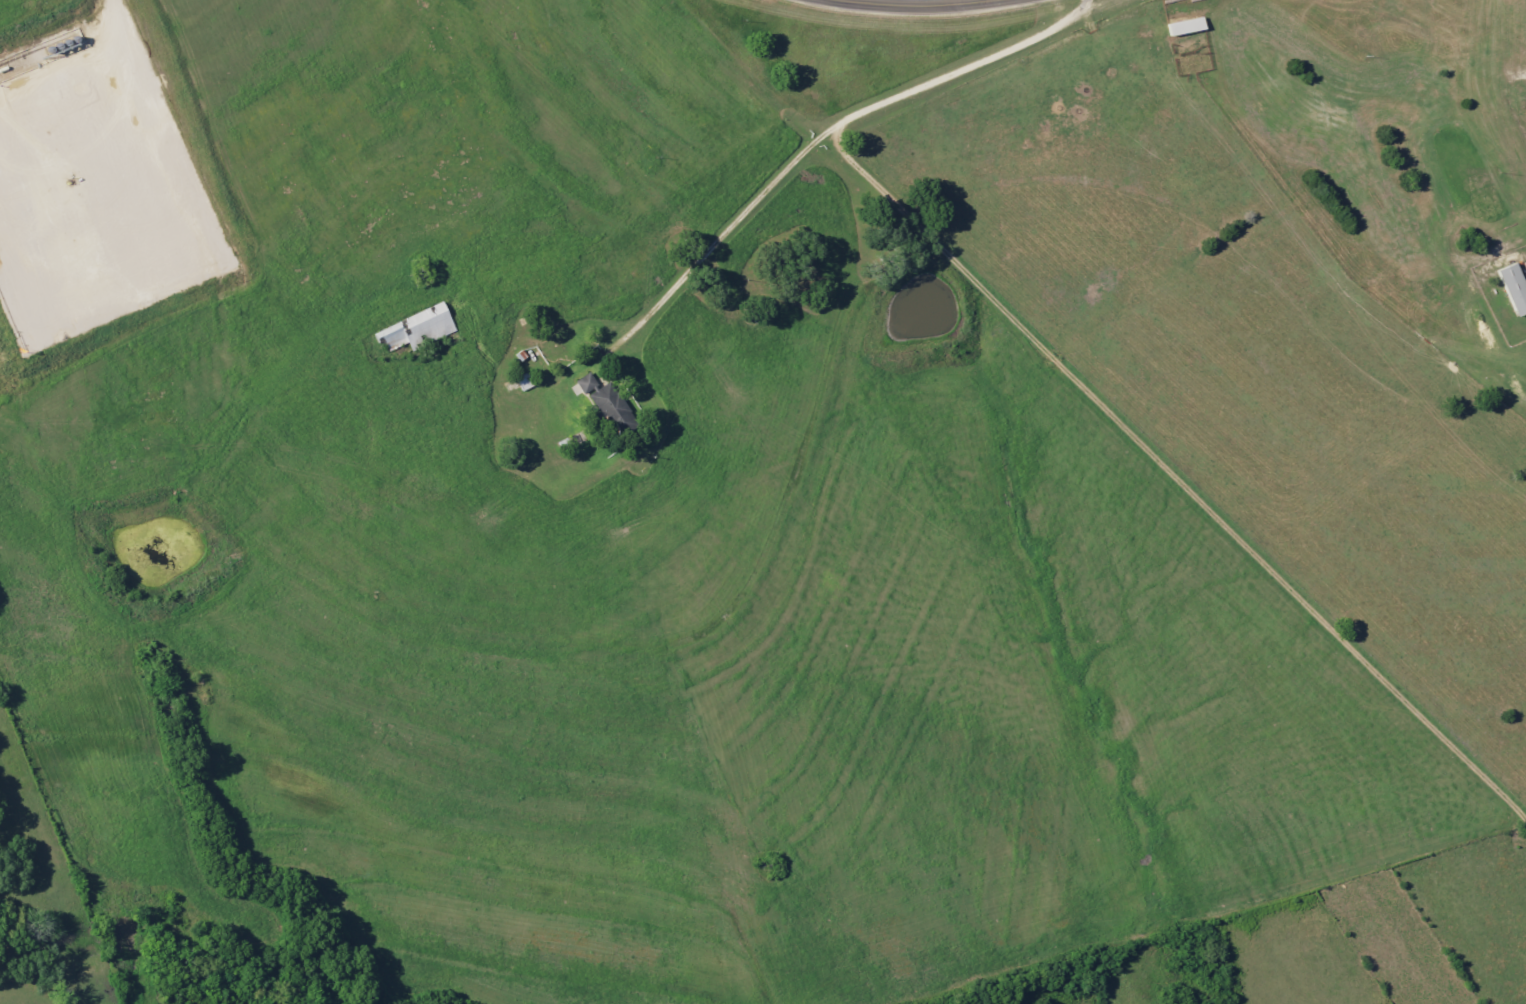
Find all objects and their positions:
road: (947, 3)
building: (1187, 27)
road: (819, 143)
building: (1515, 288)
building: (418, 329)
building: (526, 382)
building: (588, 383)
building: (611, 404)

